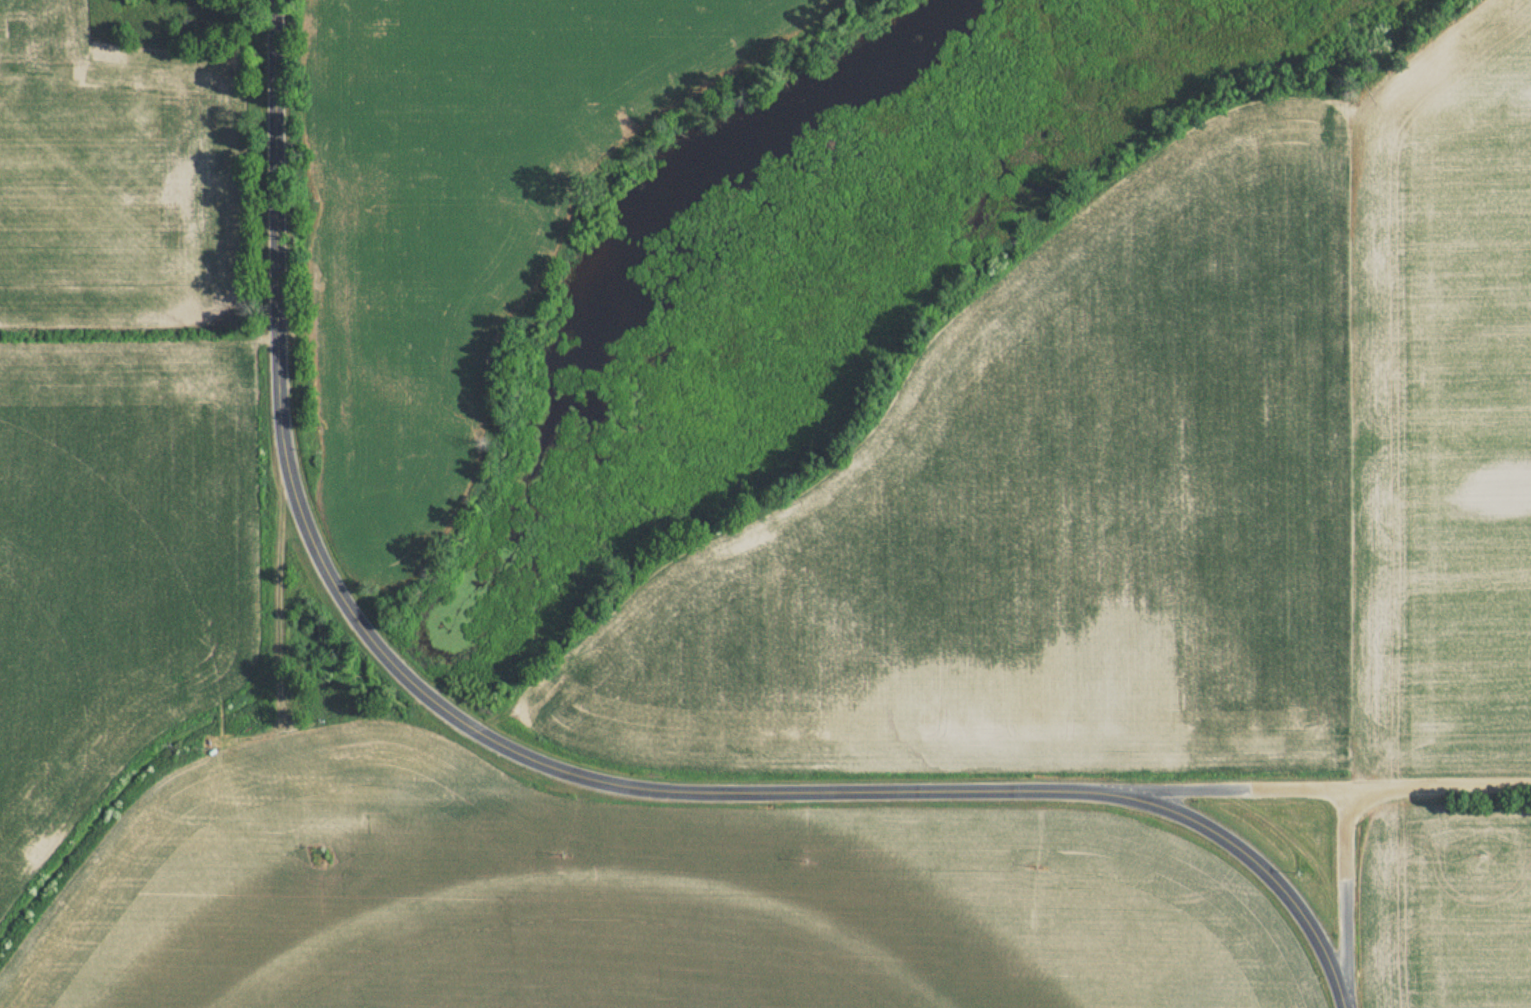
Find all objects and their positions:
road: (557, 770)
road: (1334, 792)
road: (1344, 895)

